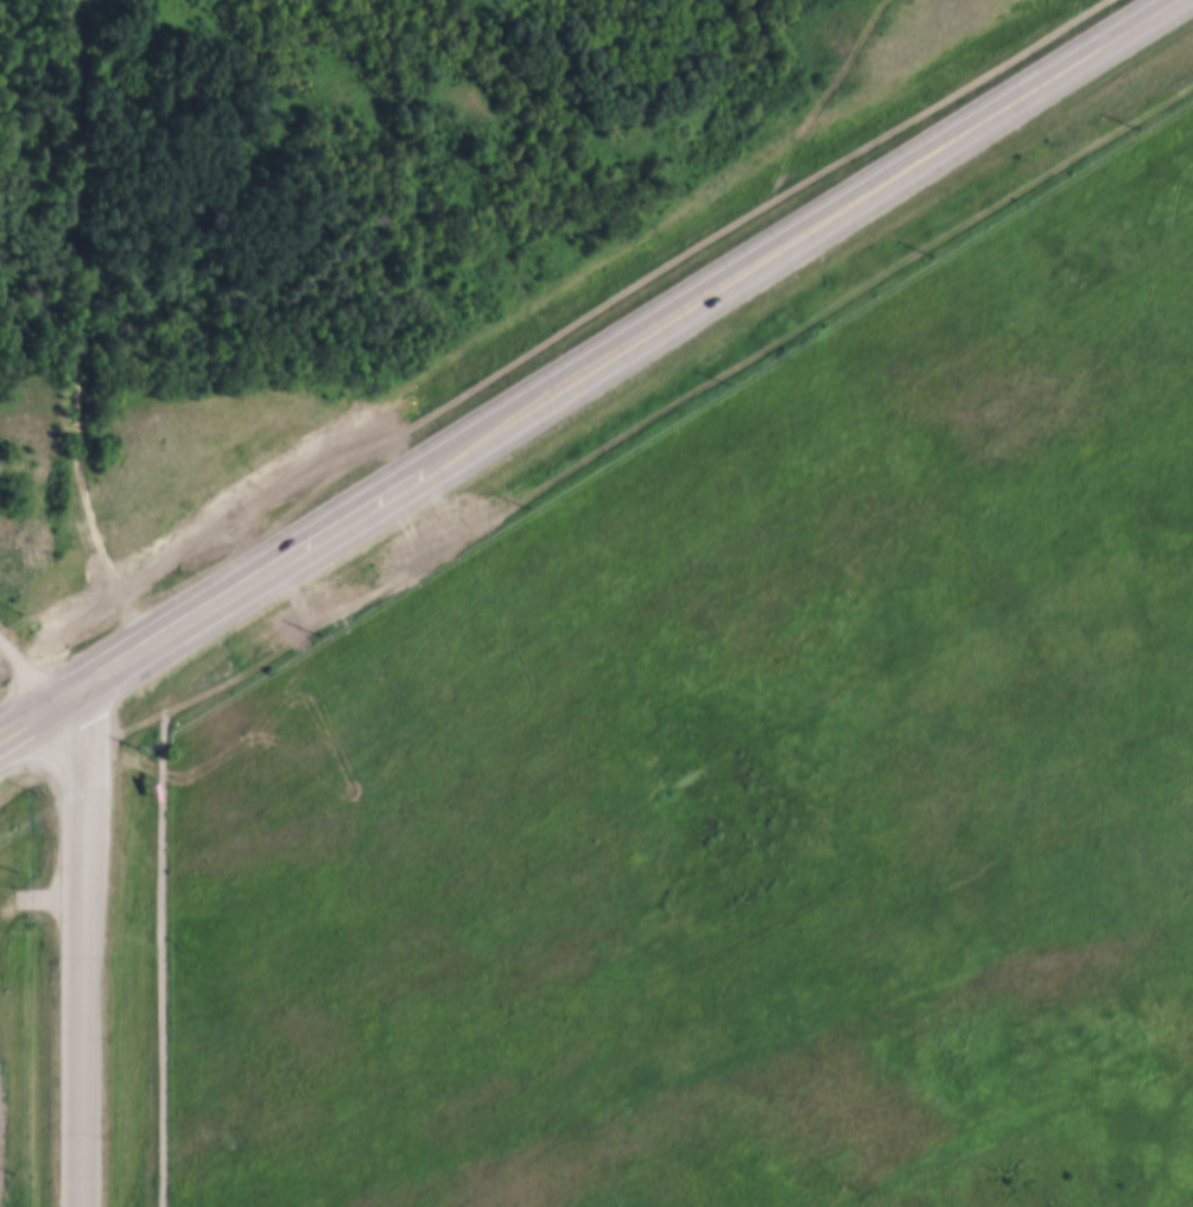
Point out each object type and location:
road: (797, 233)
road: (81, 325)
road: (637, 423)
road: (233, 582)
road: (21, 666)
road: (23, 713)
road: (82, 947)
road: (164, 960)

